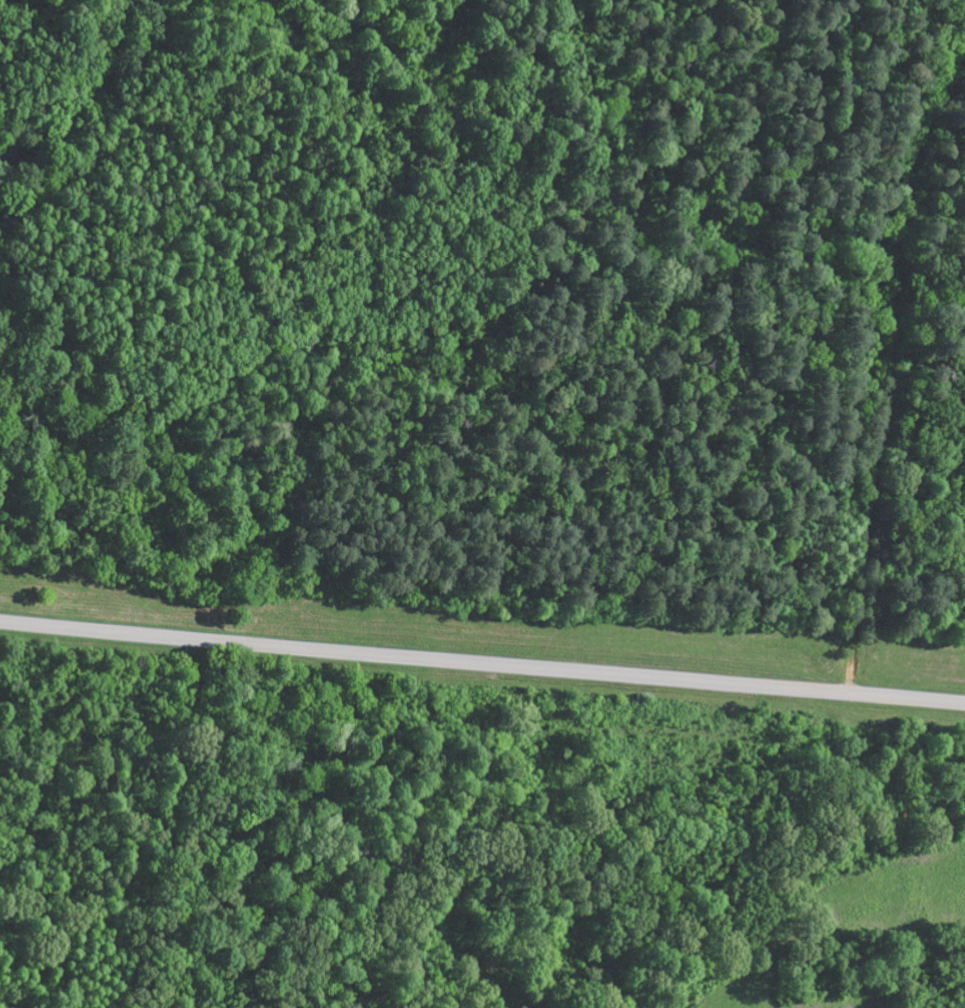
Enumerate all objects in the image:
road: (482, 665)

